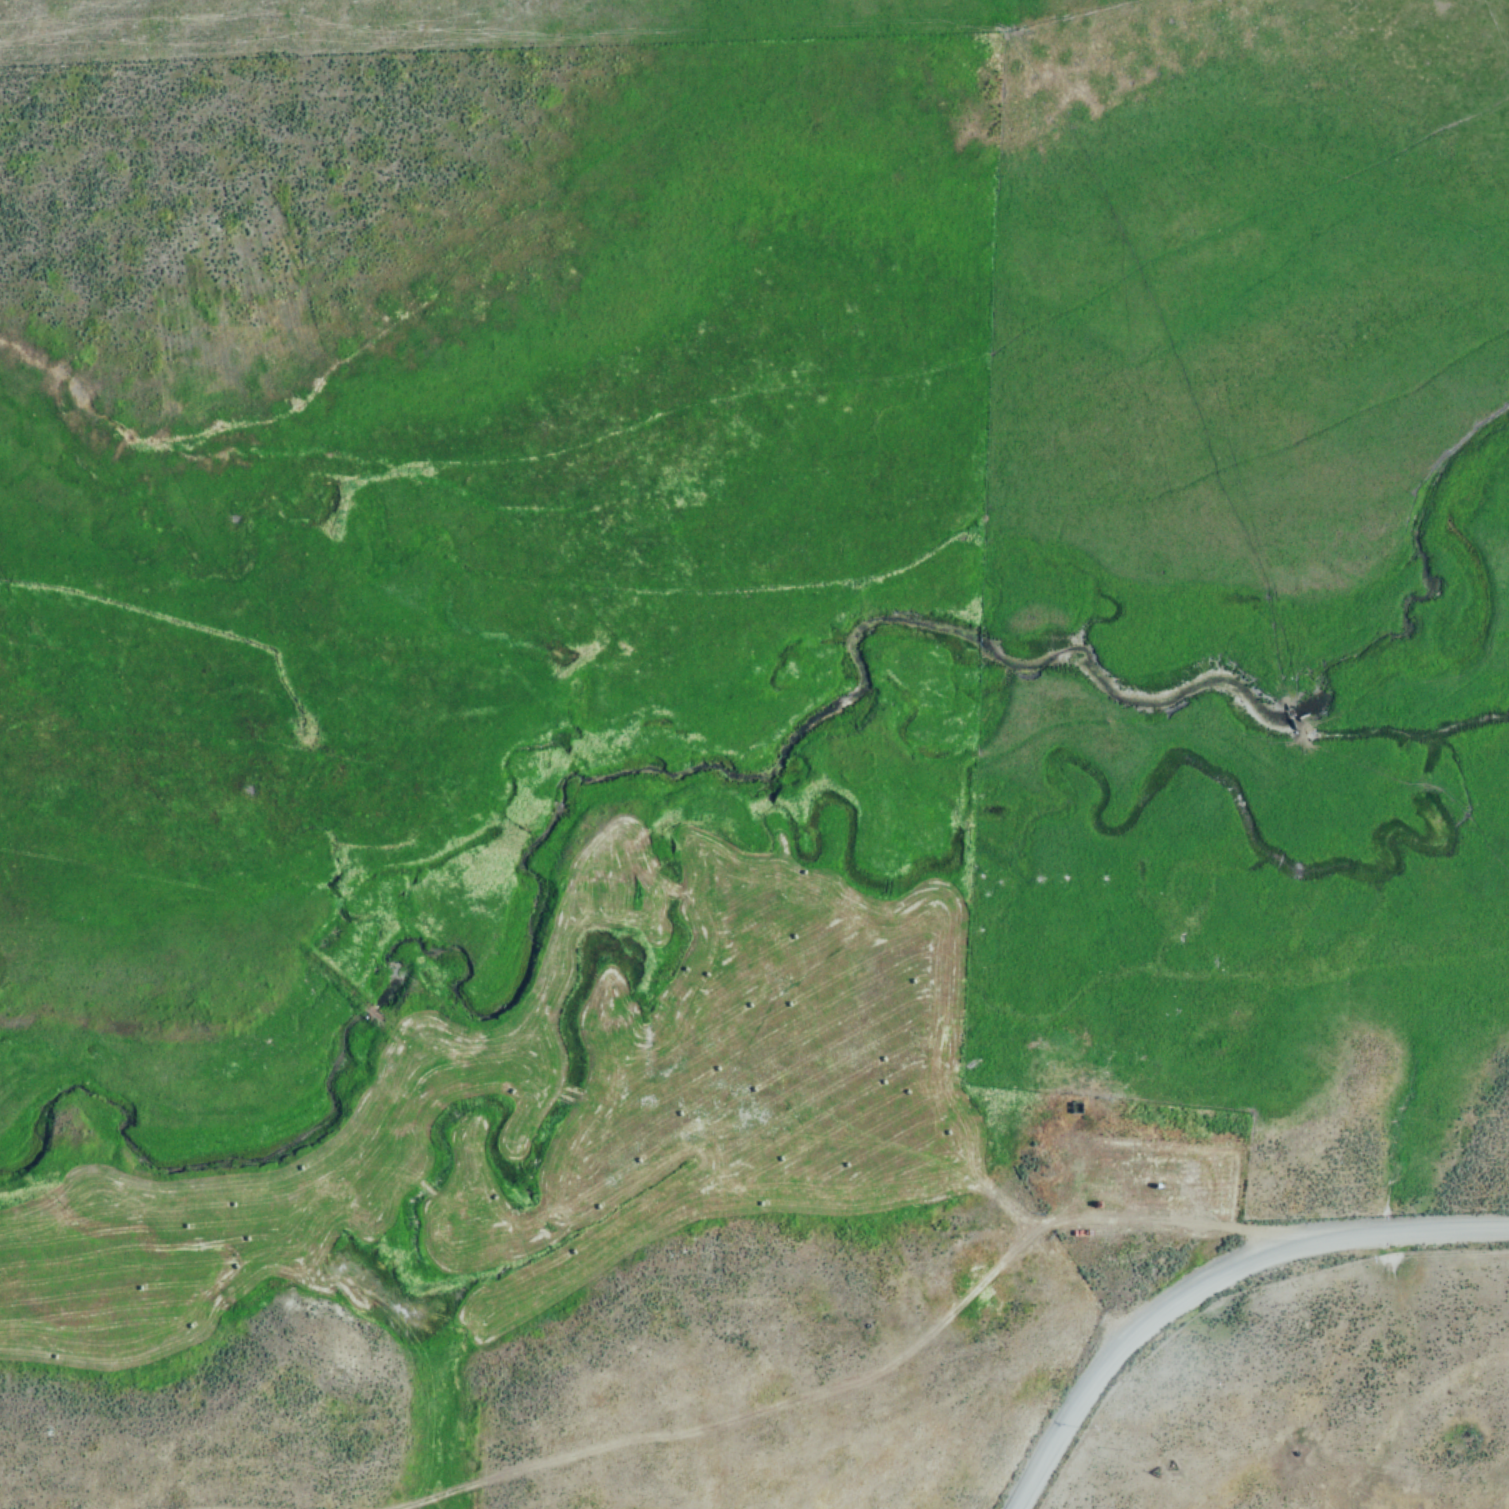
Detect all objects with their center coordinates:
road: (1228, 1322)

